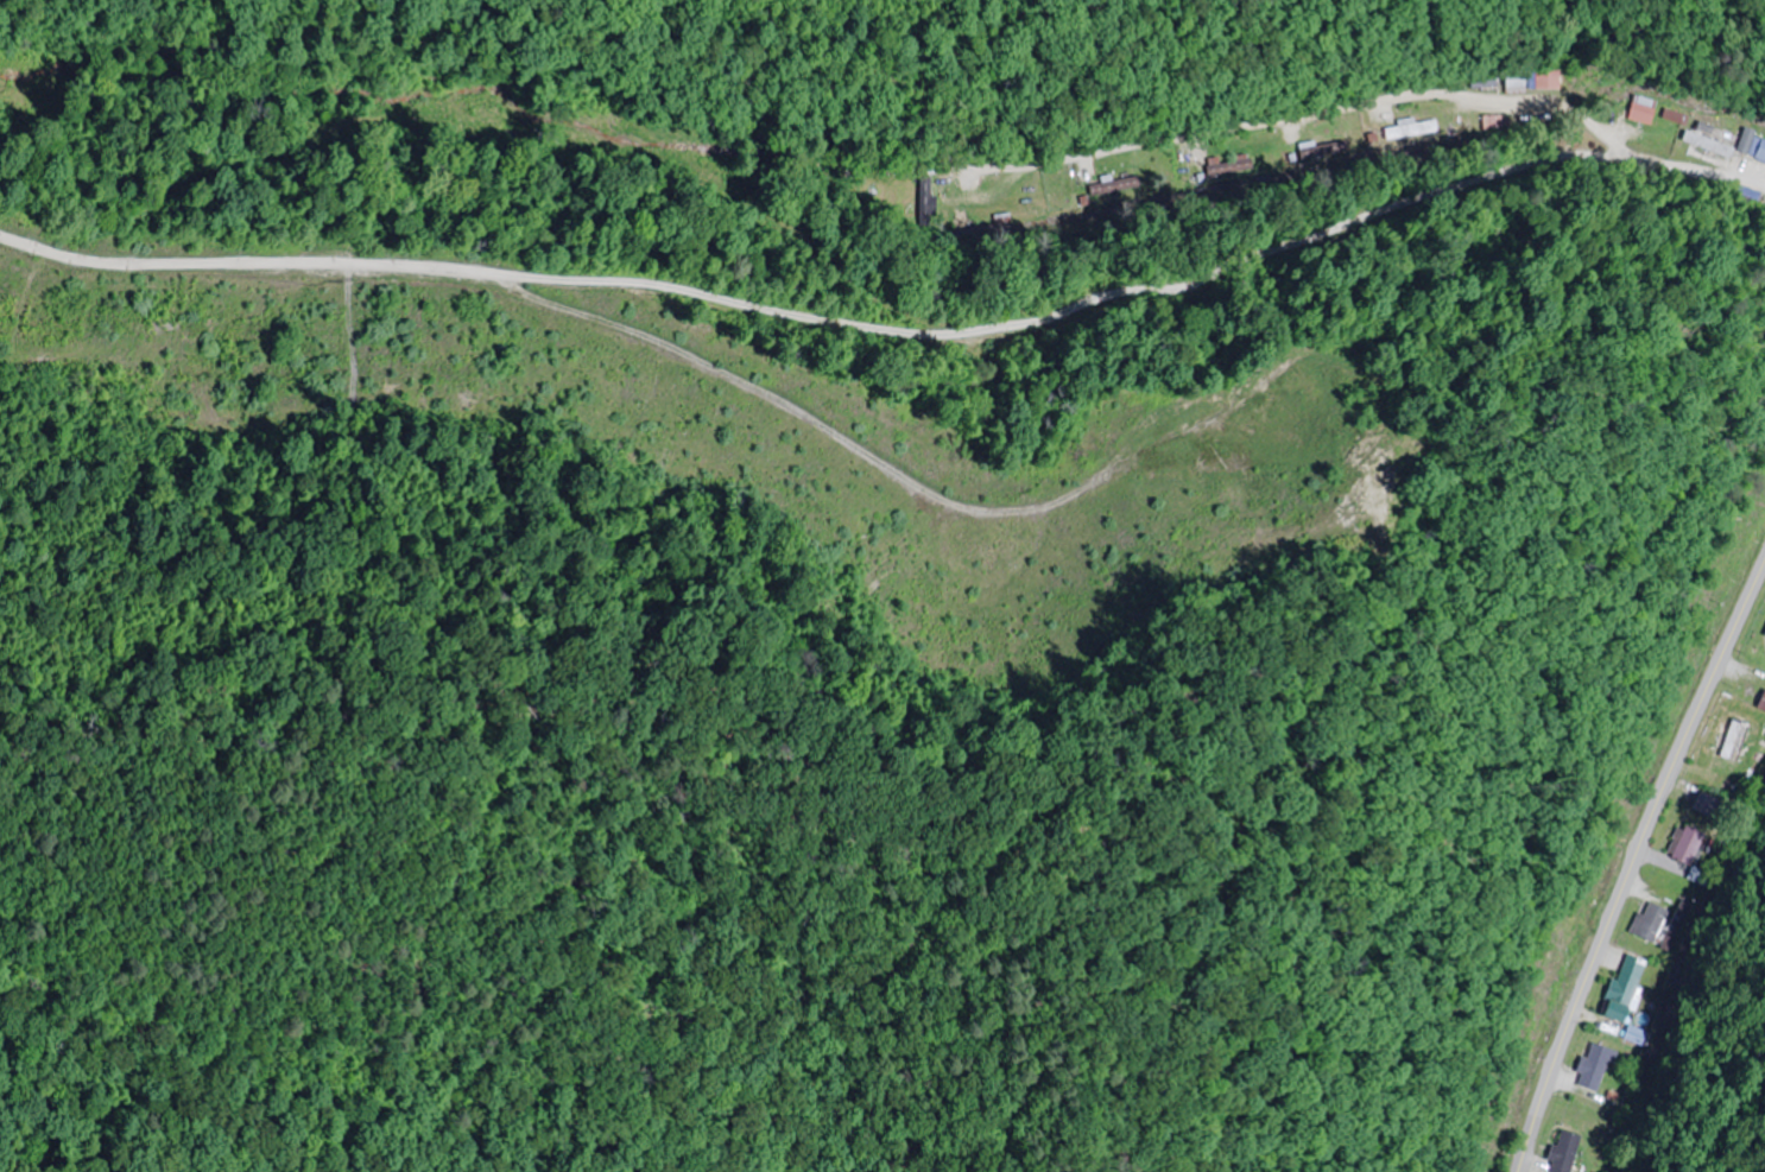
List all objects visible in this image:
road: (883, 38)
building: (1535, 81)
building: (1645, 110)
building: (1412, 128)
building: (925, 191)
building: (1763, 707)
building: (1736, 741)
building: (1685, 844)
road: (1632, 863)
building: (1653, 920)
building: (1626, 987)
building: (1596, 1065)
building: (1568, 1152)

